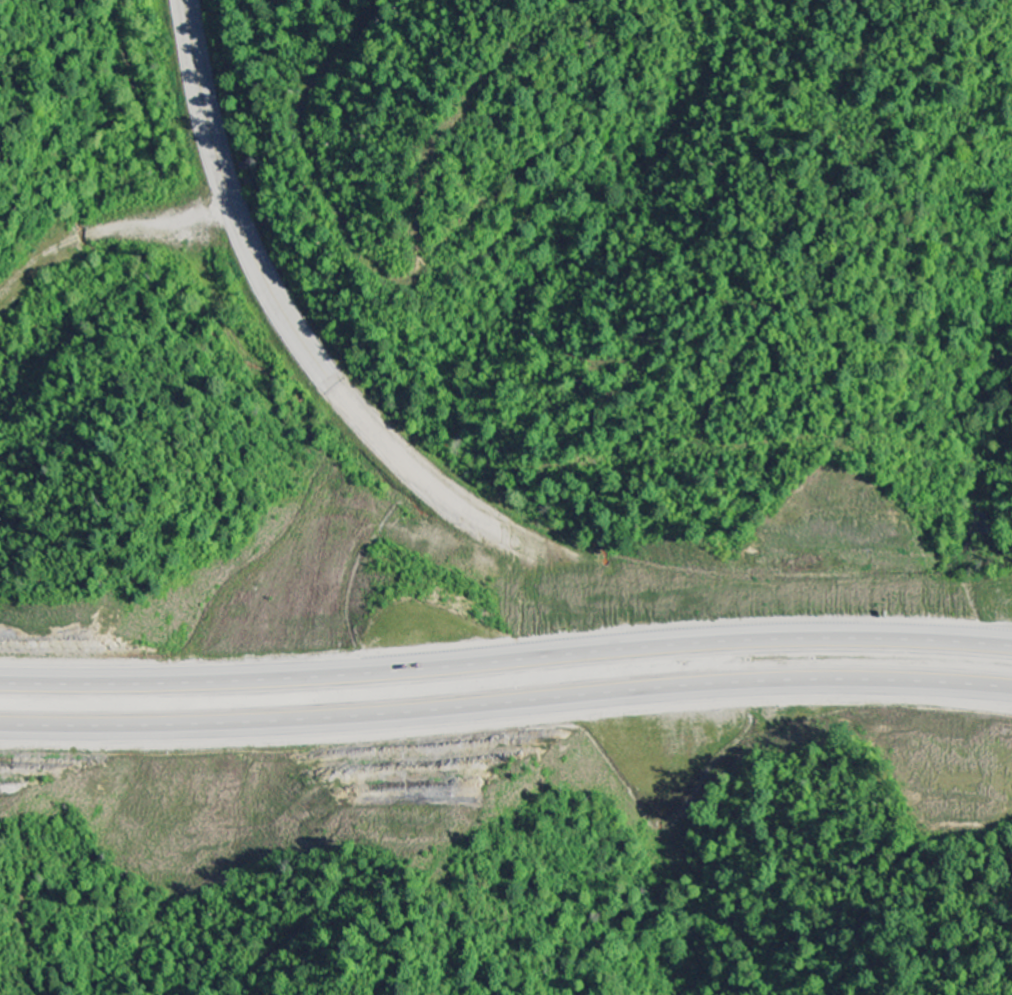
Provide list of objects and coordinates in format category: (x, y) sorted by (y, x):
road: (275, 296)
road: (506, 664)
road: (506, 709)

